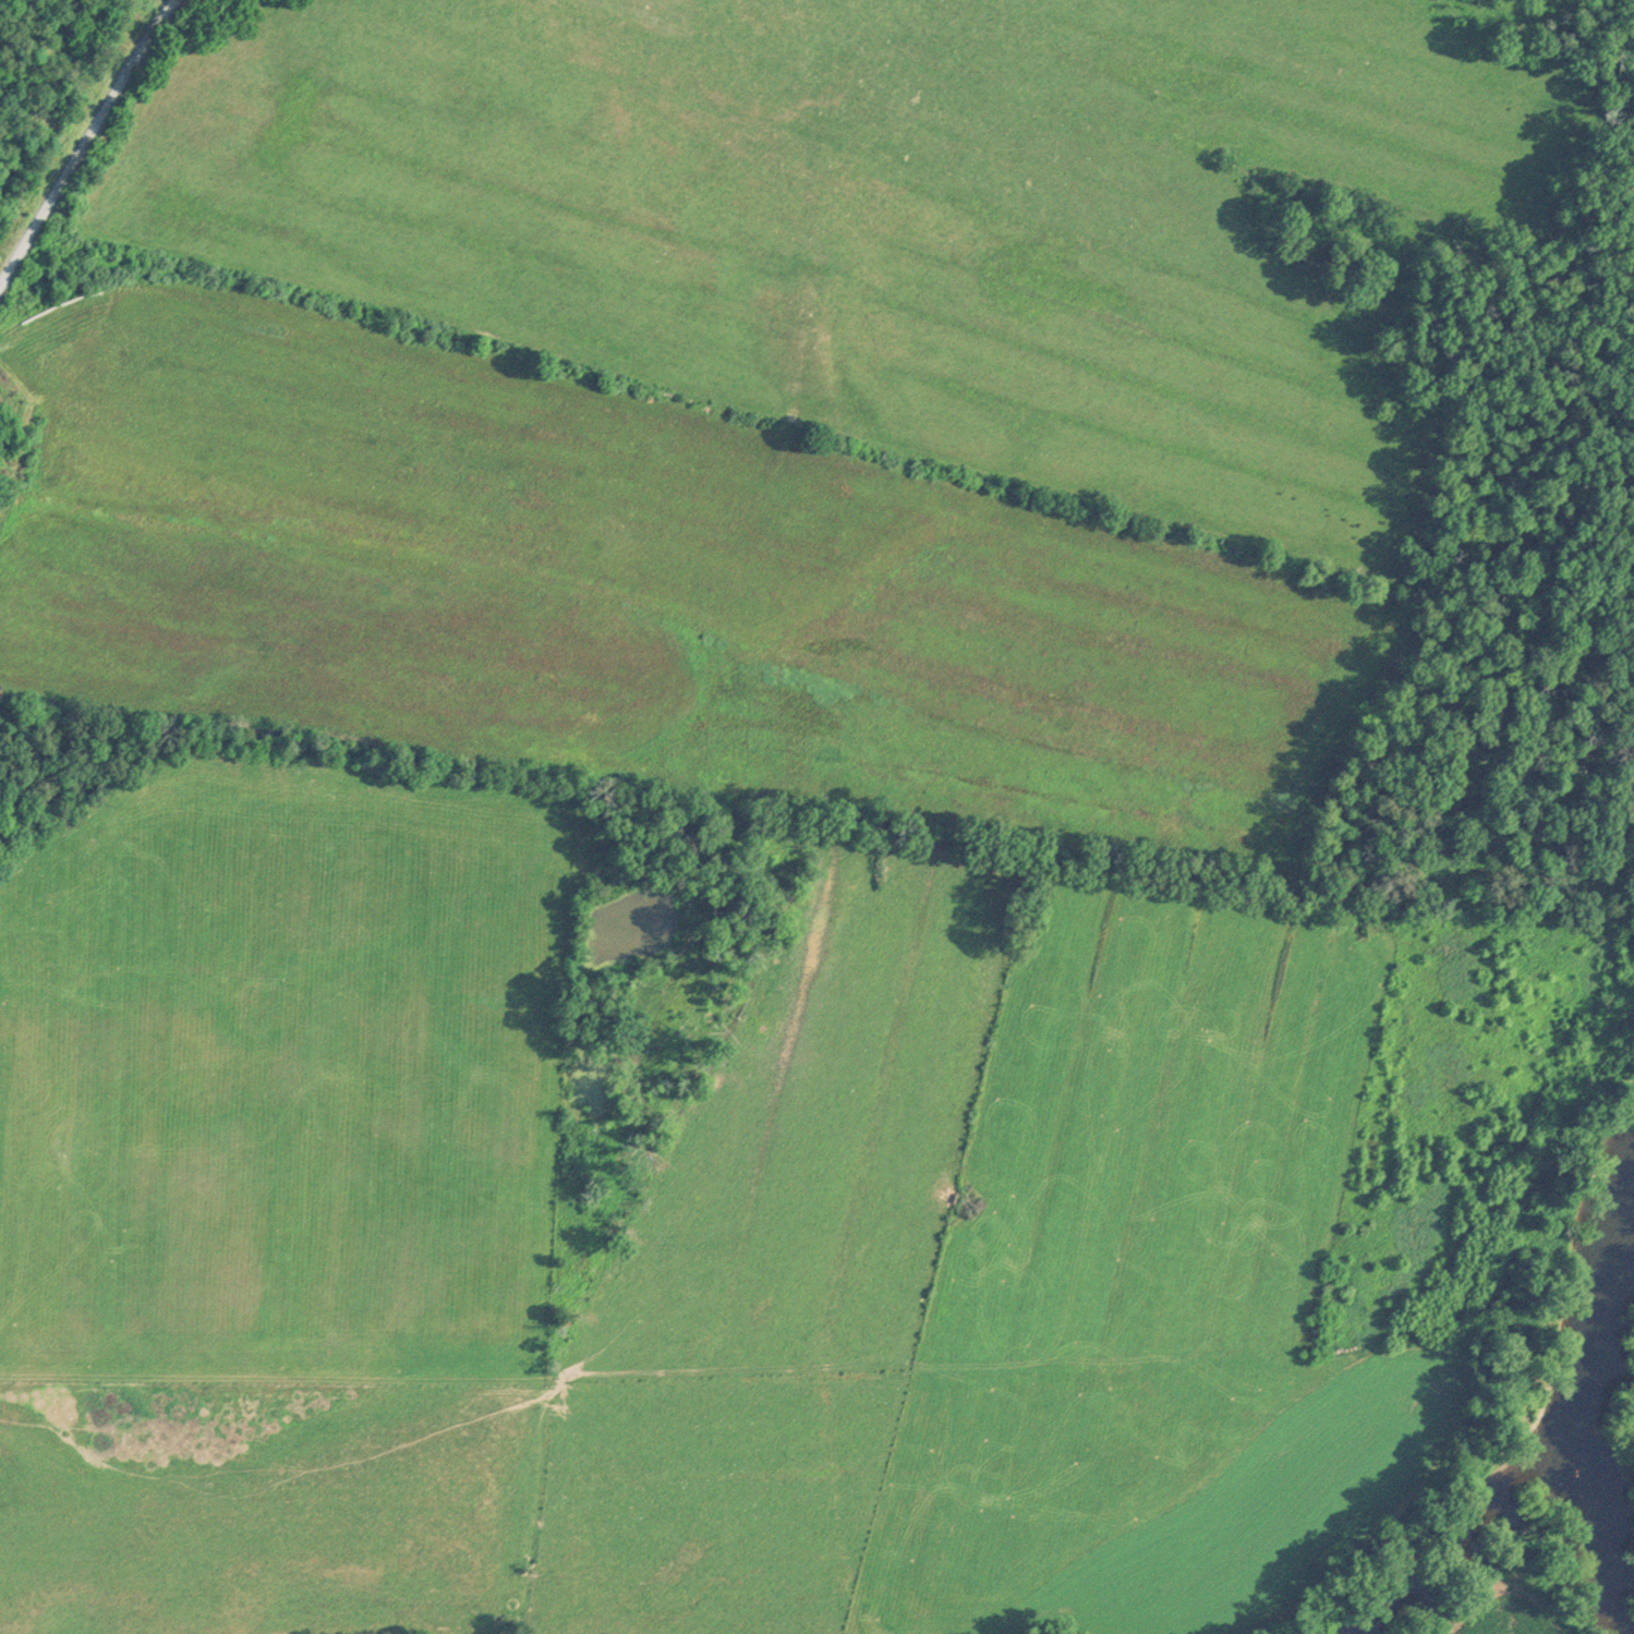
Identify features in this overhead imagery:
road: (93, 150)
river: (1577, 1423)
river: (1459, 1538)

